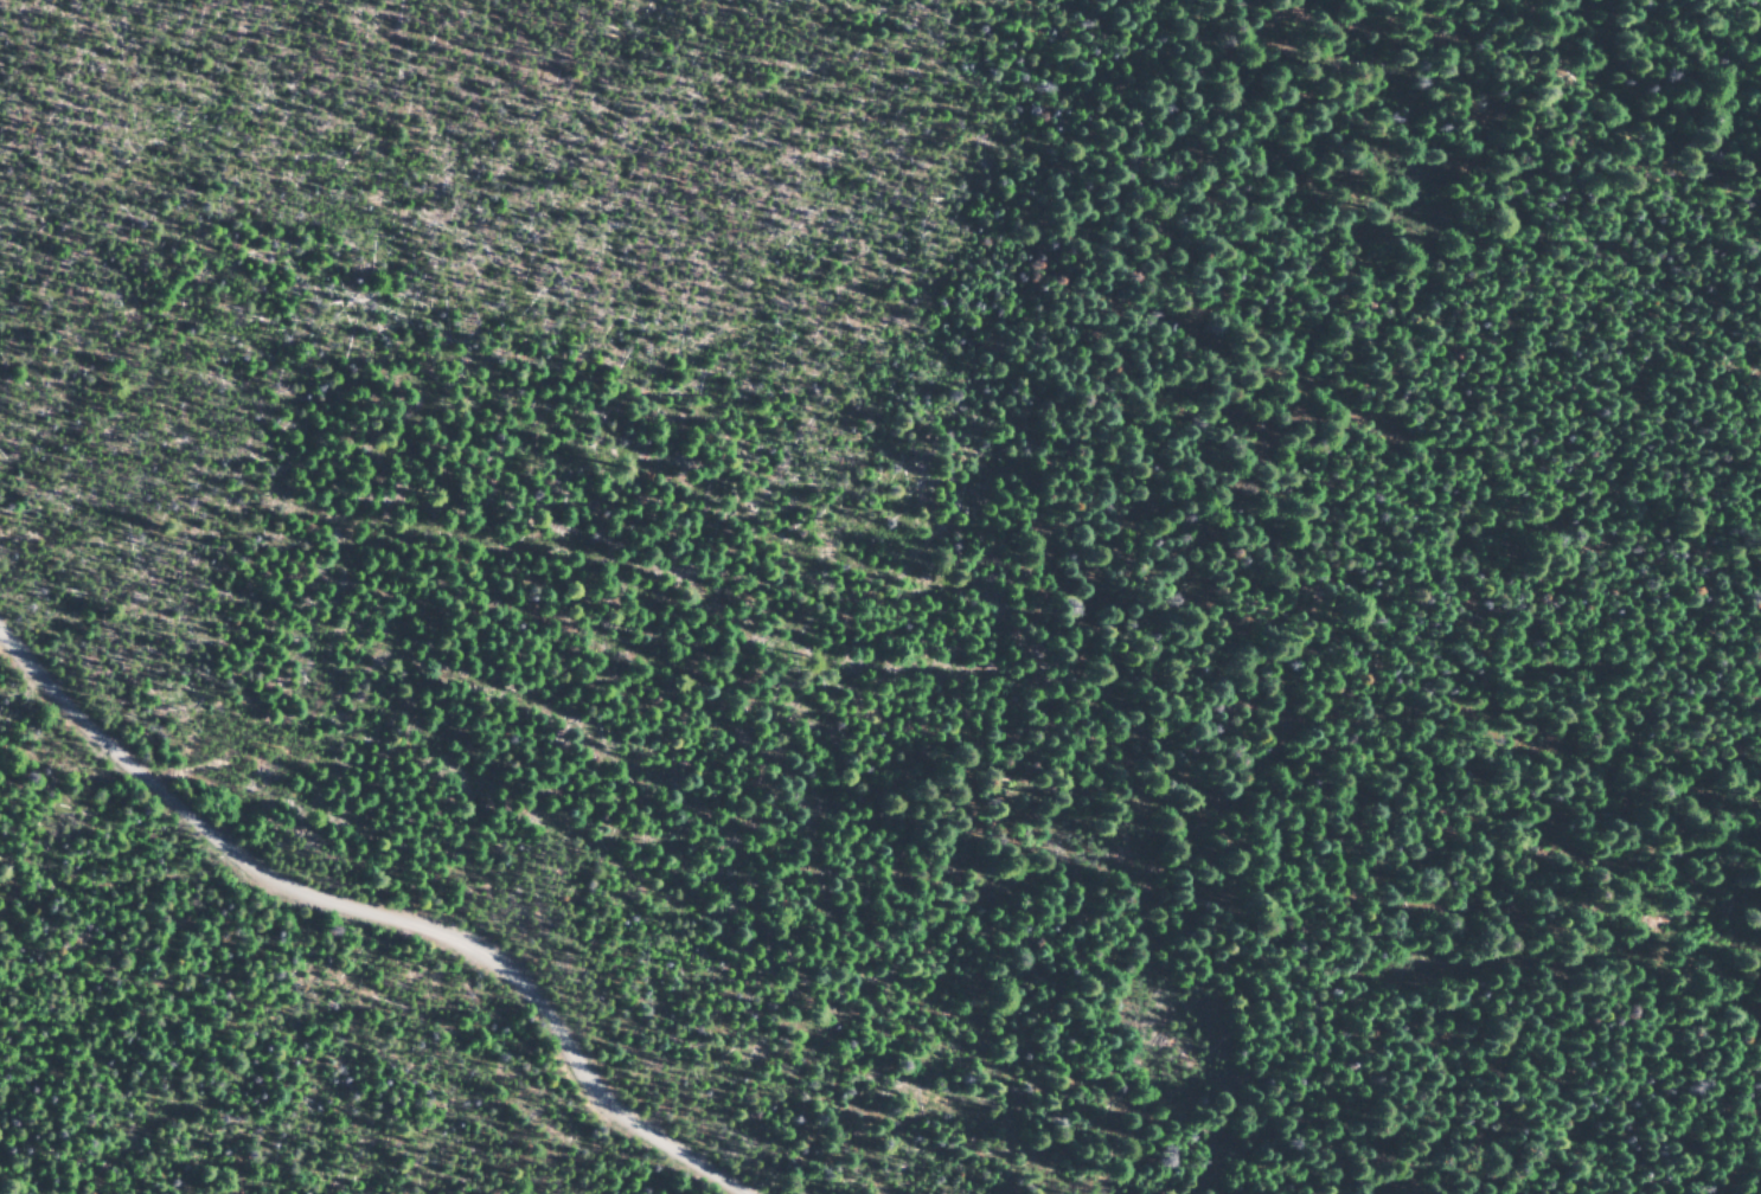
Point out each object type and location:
road: (374, 912)

